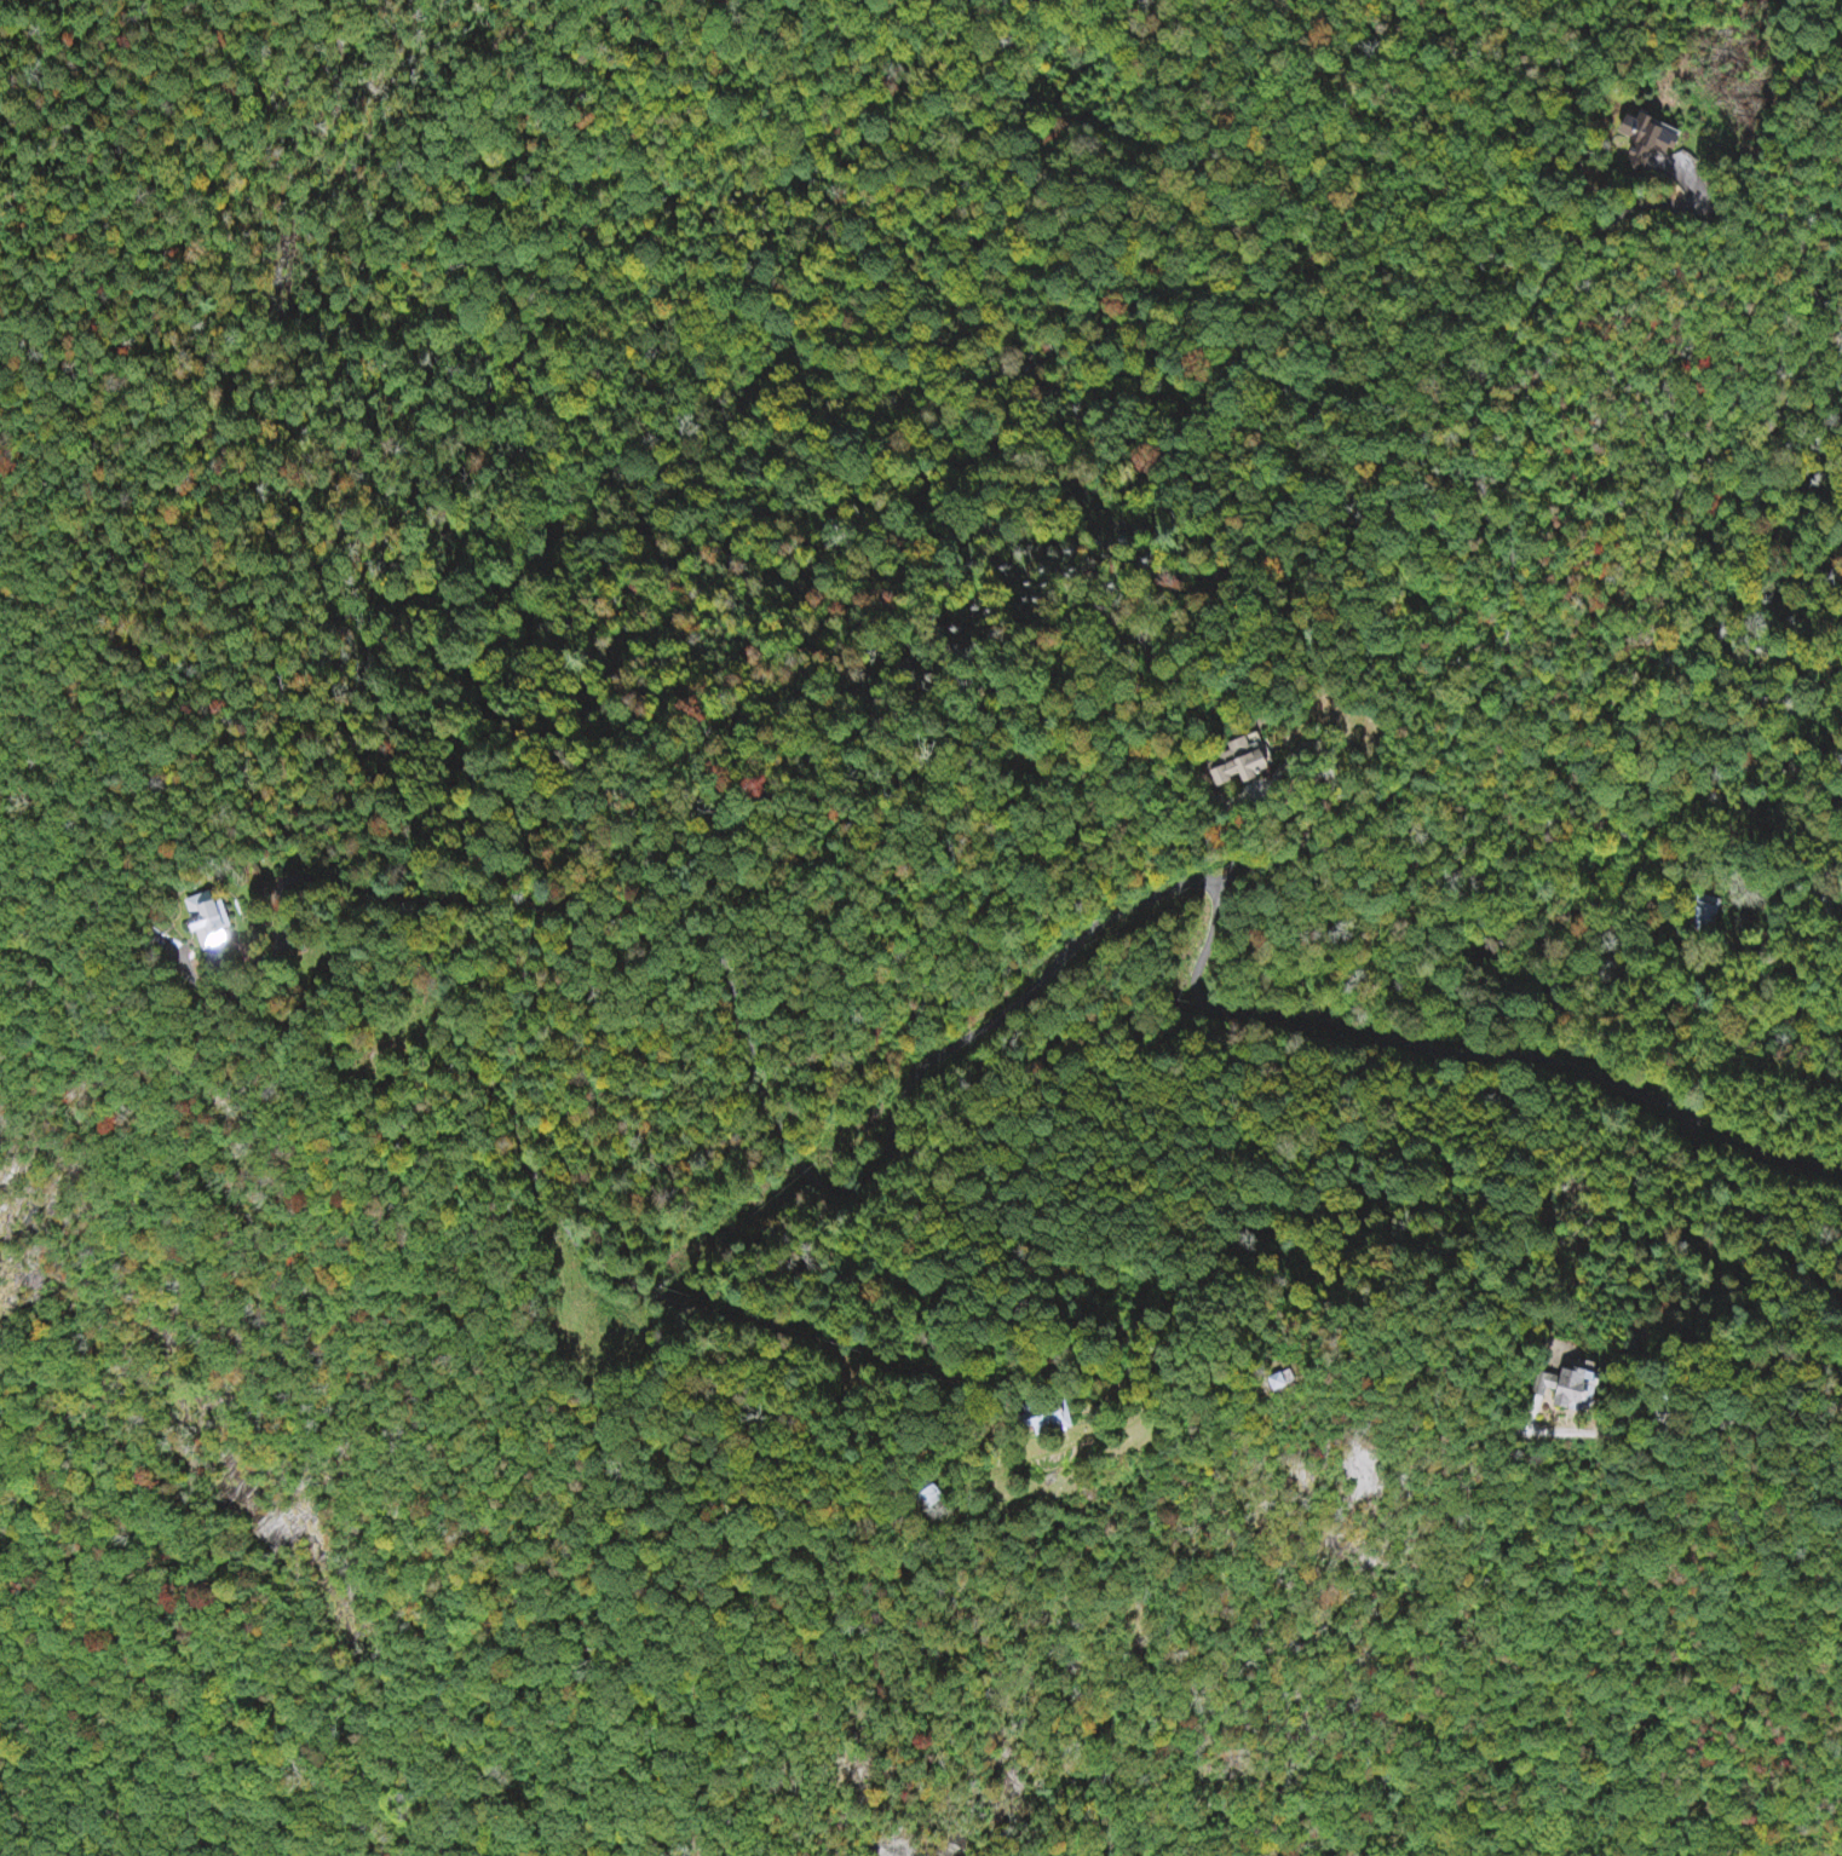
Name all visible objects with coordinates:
building: (1648, 142)
building: (1245, 762)
road: (1123, 913)
road: (286, 1166)

